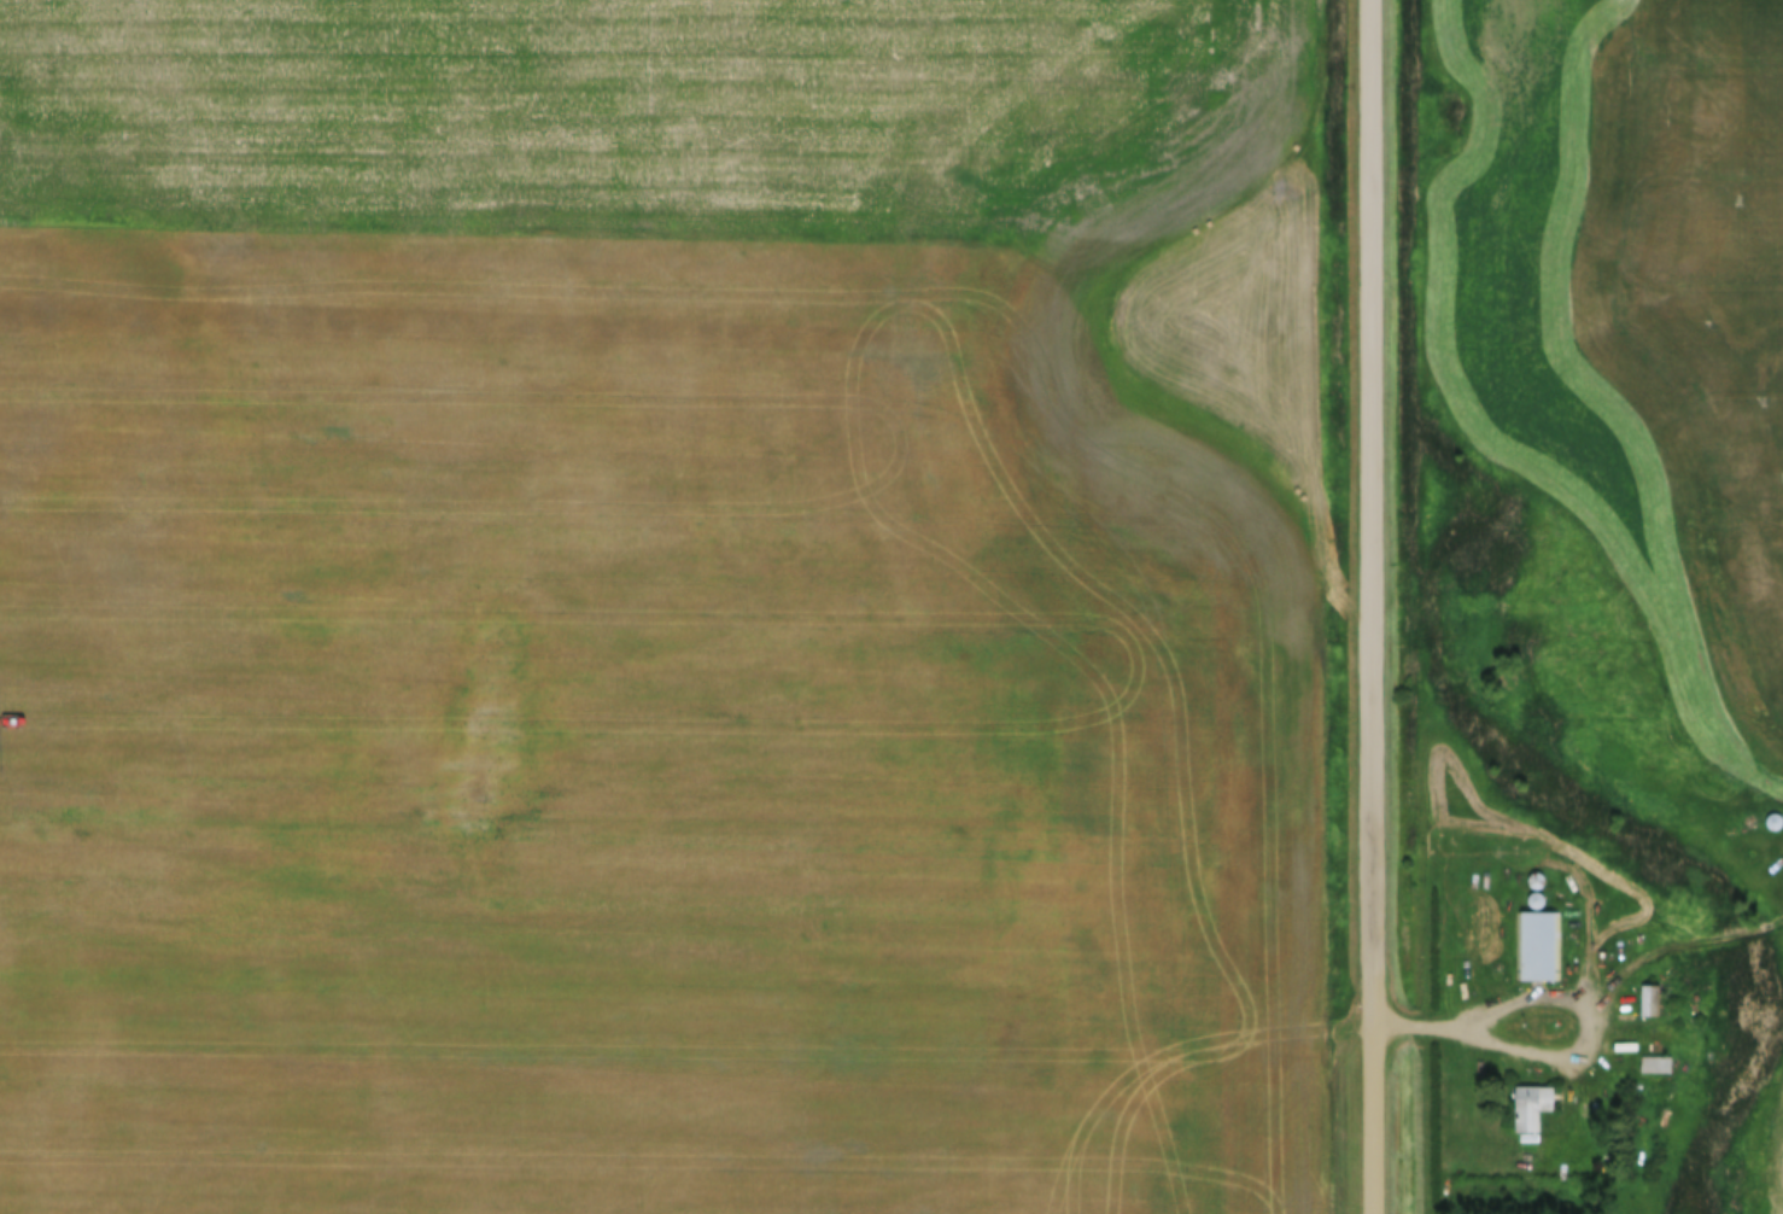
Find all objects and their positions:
road: (1372, 607)
building: (1776, 827)
road: (1680, 947)
building: (1537, 950)
road: (1586, 1002)
building: (1650, 1005)
building: (1656, 1068)
building: (1533, 1111)

